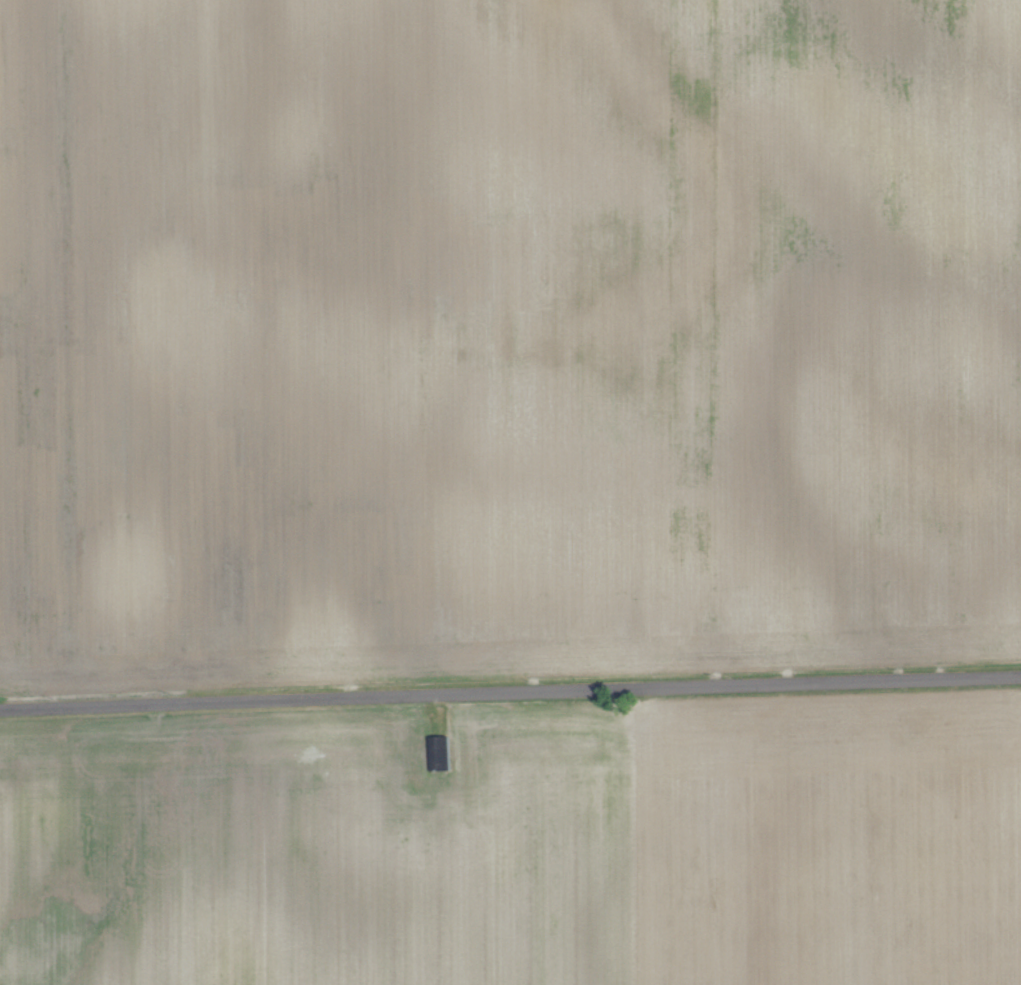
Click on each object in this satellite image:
road: (510, 690)
building: (442, 753)

